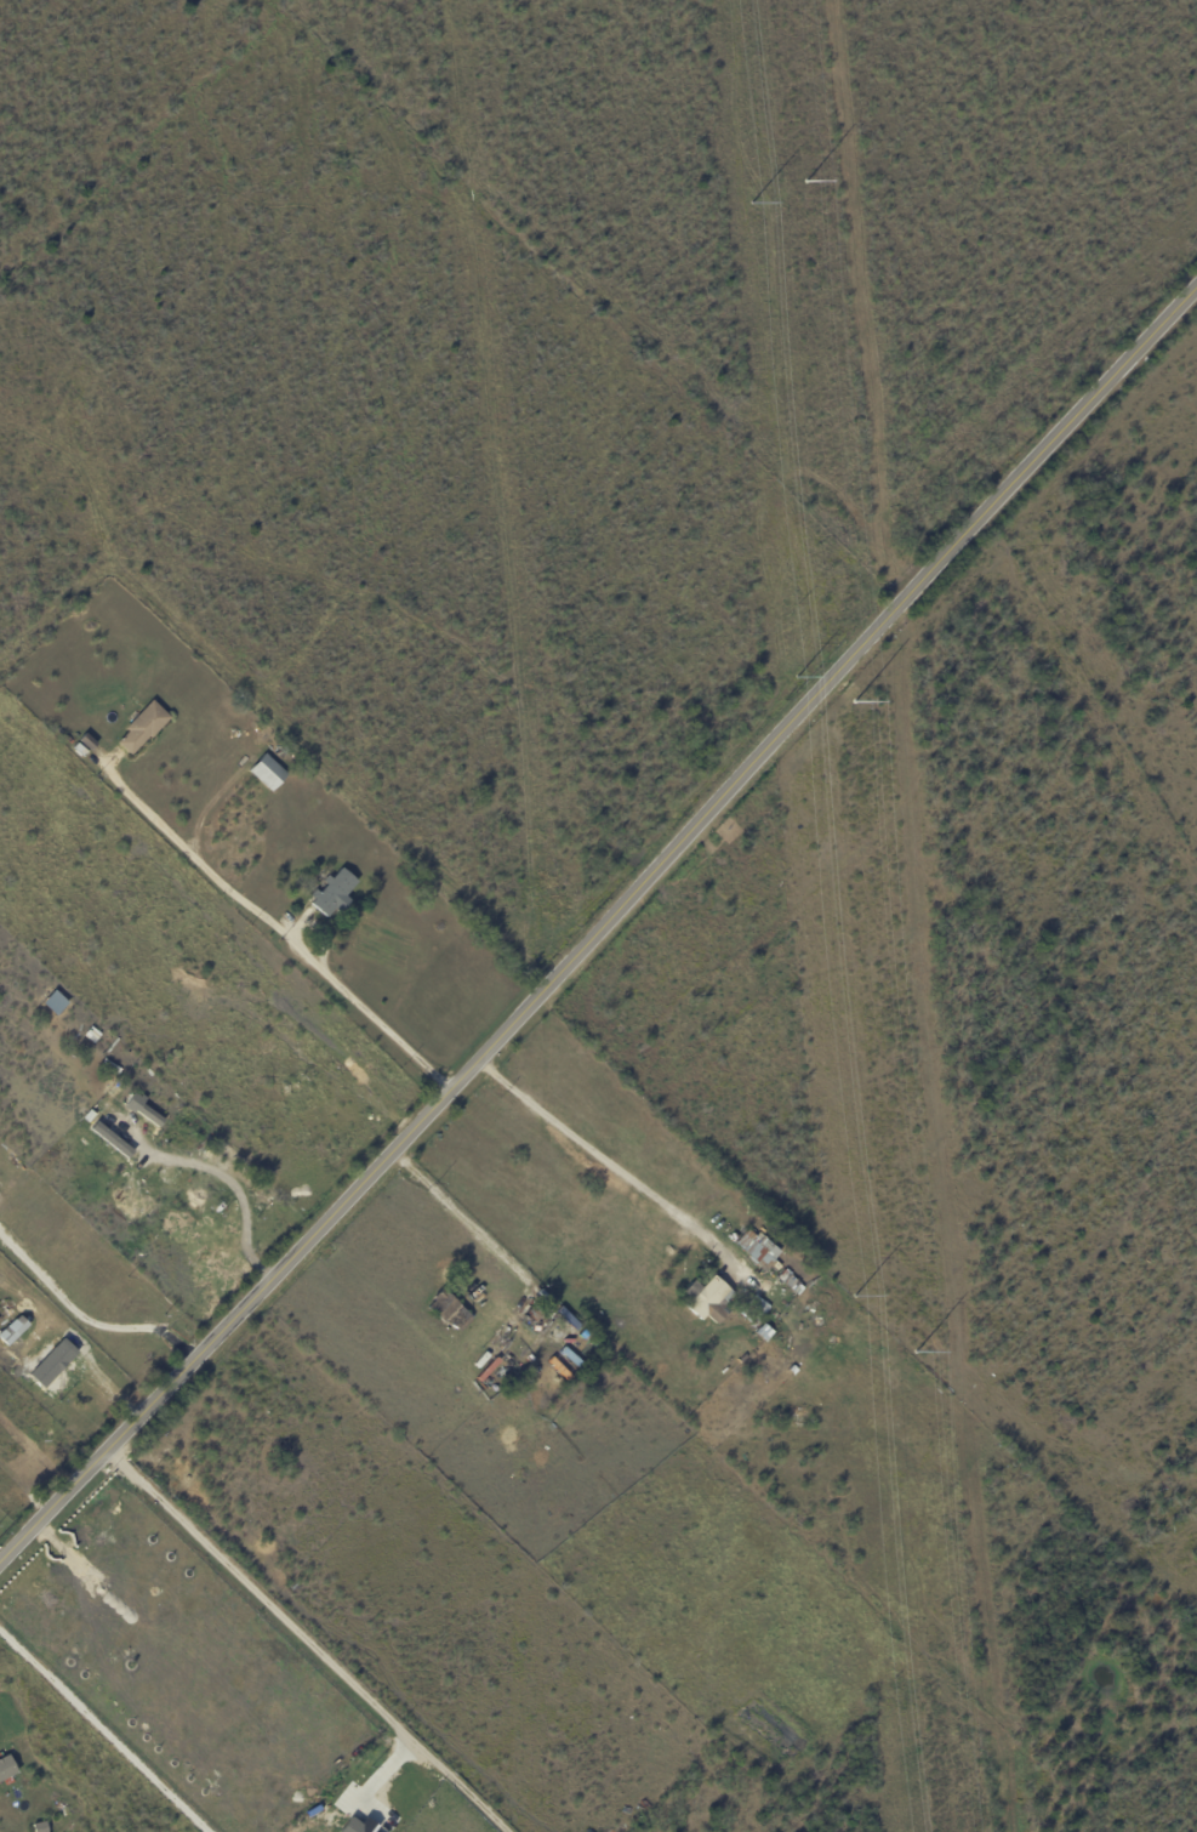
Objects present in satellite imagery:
building: (144, 727)
building: (270, 772)
building: (336, 893)
road: (602, 927)
road: (278, 928)
road: (494, 1073)
building: (142, 1109)
building: (110, 1138)
road: (627, 1170)
road: (226, 1179)
building: (760, 1251)
building: (792, 1282)
building: (708, 1299)
building: (758, 1304)
building: (450, 1309)
building: (752, 1315)
road: (85, 1319)
building: (12, 1330)
building: (766, 1332)
building: (521, 1339)
building: (751, 1345)
building: (553, 1355)
building: (768, 1411)
road: (308, 1640)
road: (112, 1722)
building: (7, 1768)
building: (628, 1810)
building: (352, 1826)

